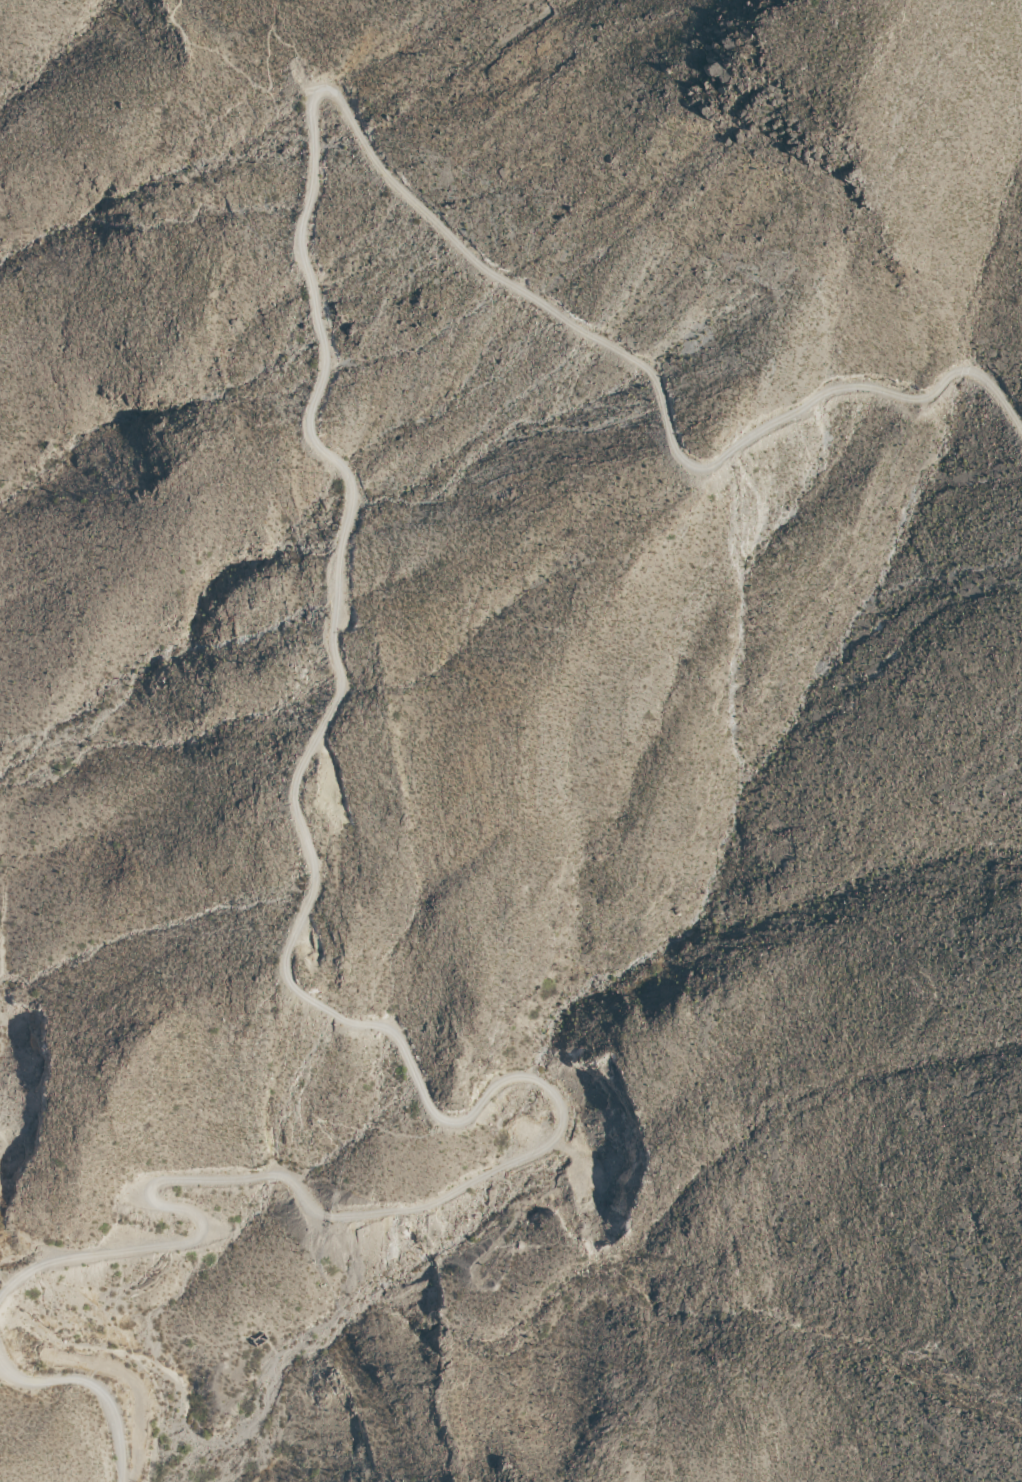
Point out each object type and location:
road: (270, 85)
road: (313, 401)
road: (189, 1211)
road: (6, 1278)
road: (94, 1385)

